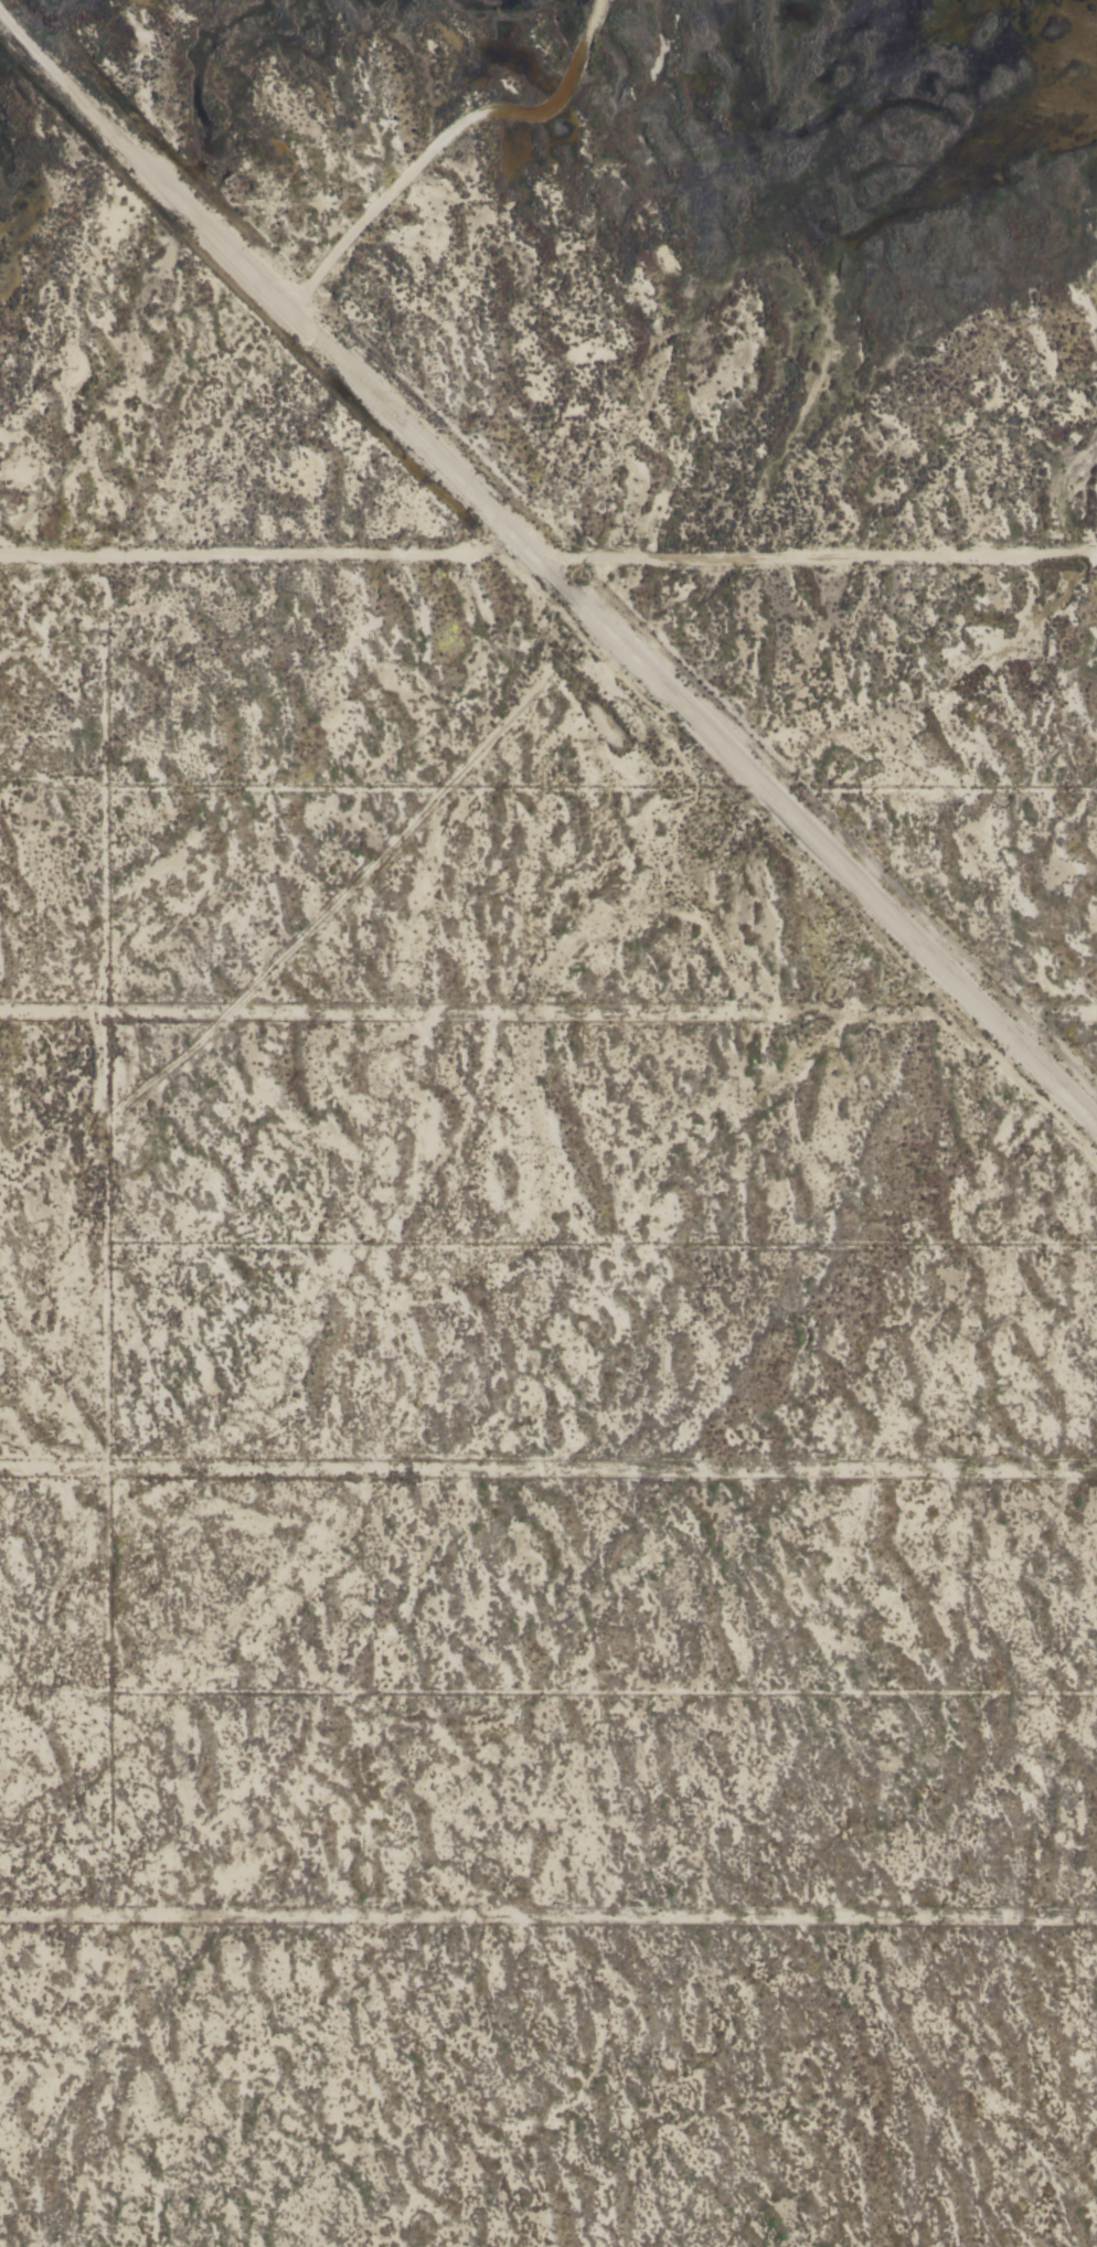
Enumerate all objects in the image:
road: (444, 136)
road: (548, 571)

